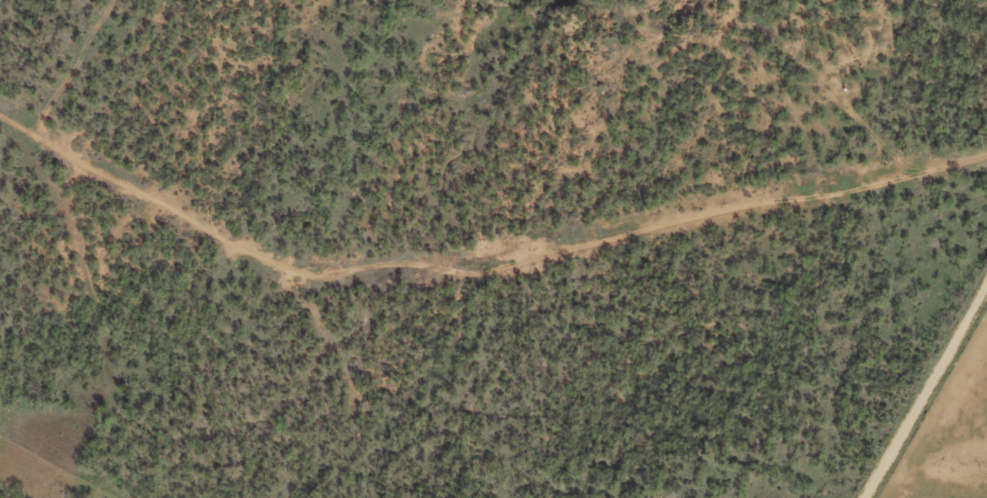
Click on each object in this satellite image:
road: (308, 286)
road: (926, 389)

